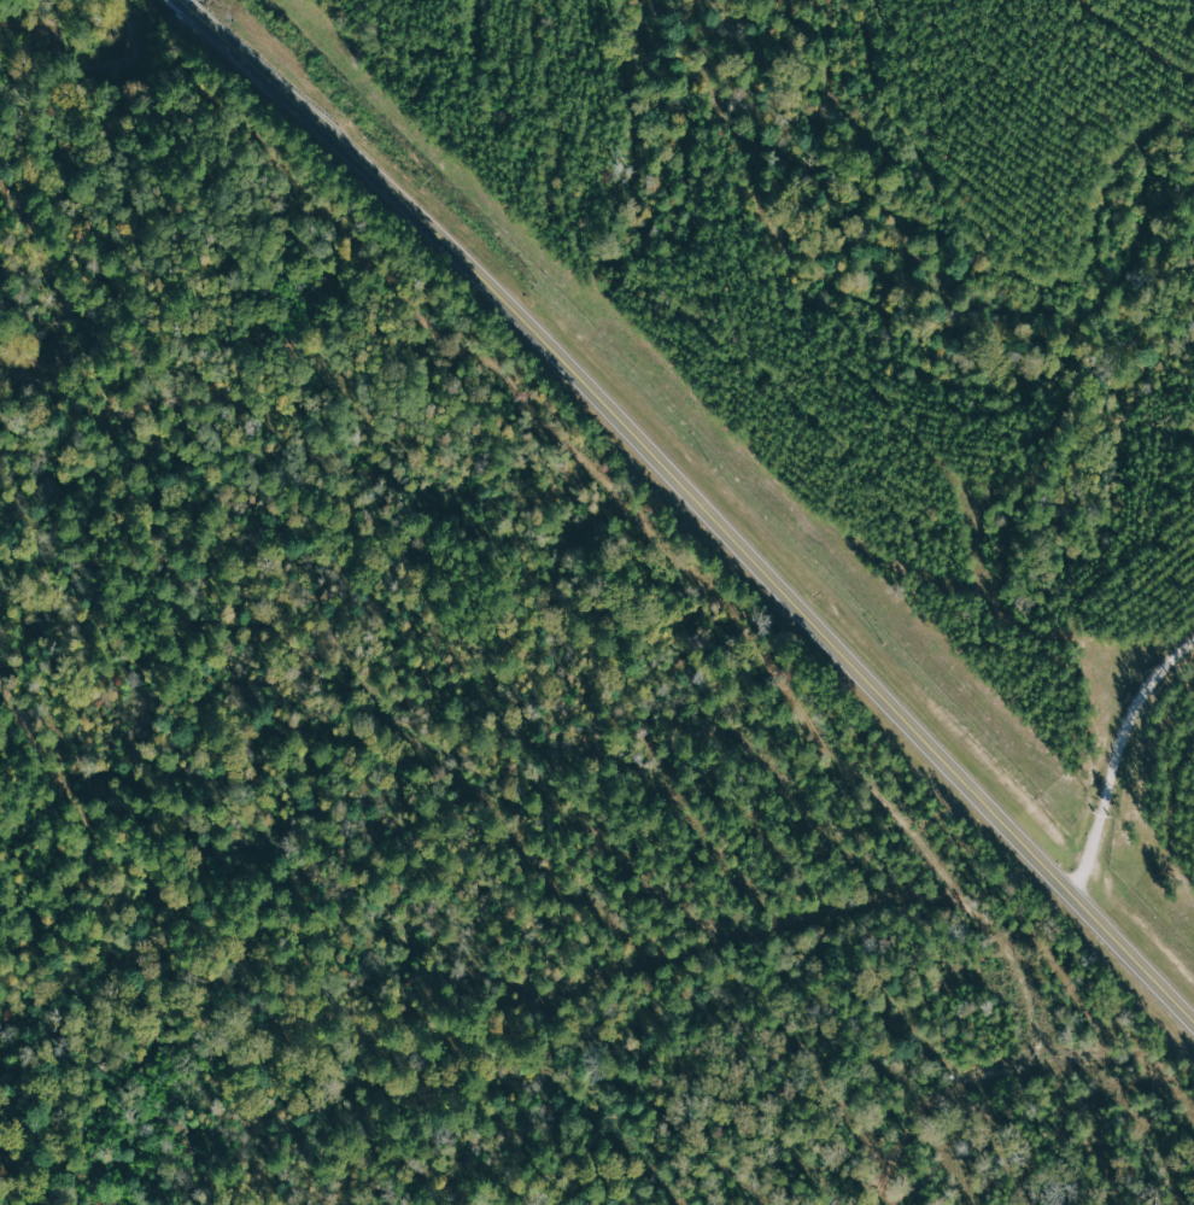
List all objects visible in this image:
road: (693, 499)
road: (1114, 756)

